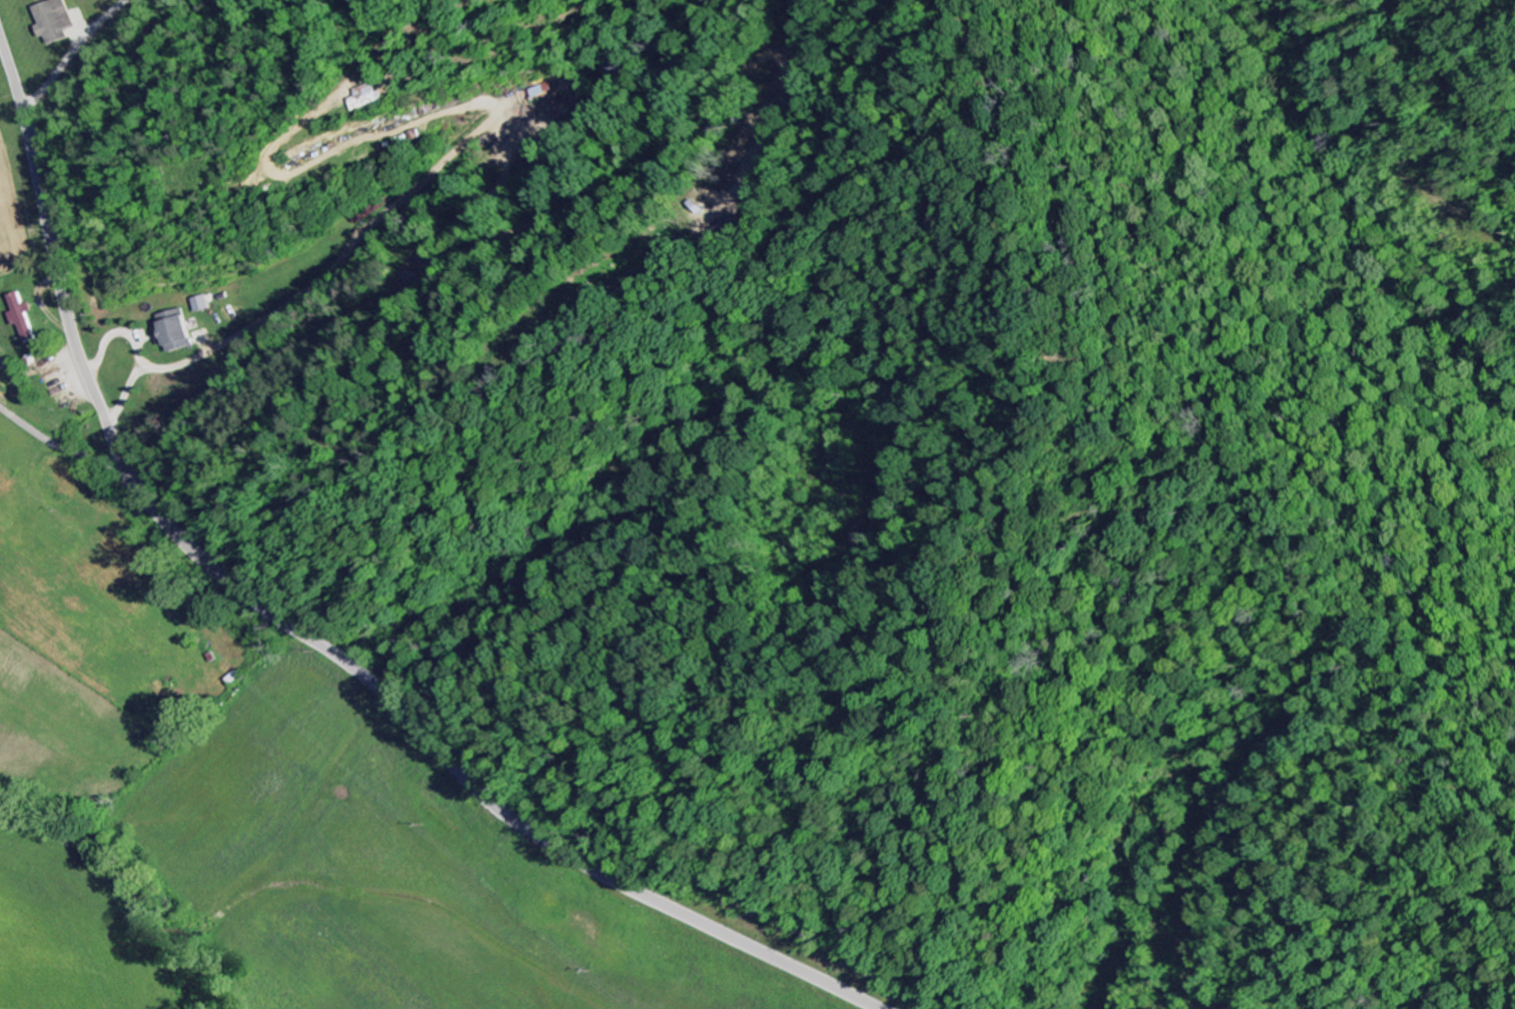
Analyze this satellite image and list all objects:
building: (51, 22)
building: (369, 98)
building: (196, 305)
building: (20, 318)
building: (169, 332)
road: (61, 448)
road: (301, 634)

